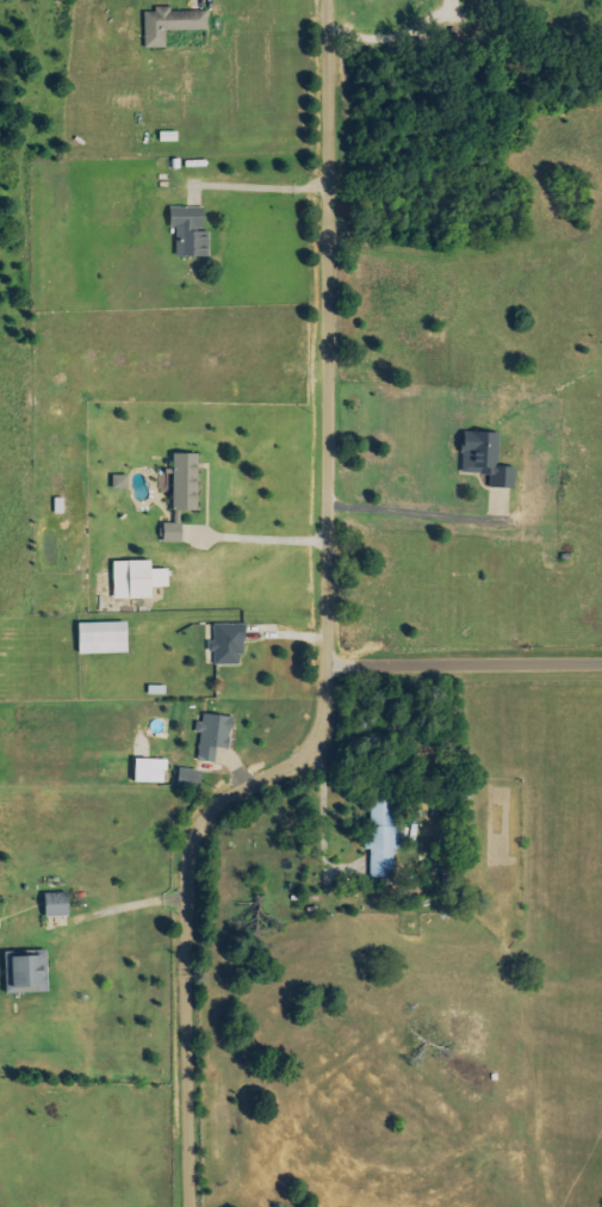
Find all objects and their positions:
building: (170, 24)
road: (261, 185)
building: (190, 231)
building: (486, 459)
building: (119, 481)
building: (182, 493)
road: (414, 513)
road: (257, 539)
building: (136, 578)
building: (103, 637)
road: (330, 637)
building: (228, 643)
road: (466, 669)
building: (213, 735)
building: (149, 769)
building: (188, 778)
road: (324, 805)
building: (381, 840)
building: (56, 904)
road: (126, 906)
building: (26, 972)

